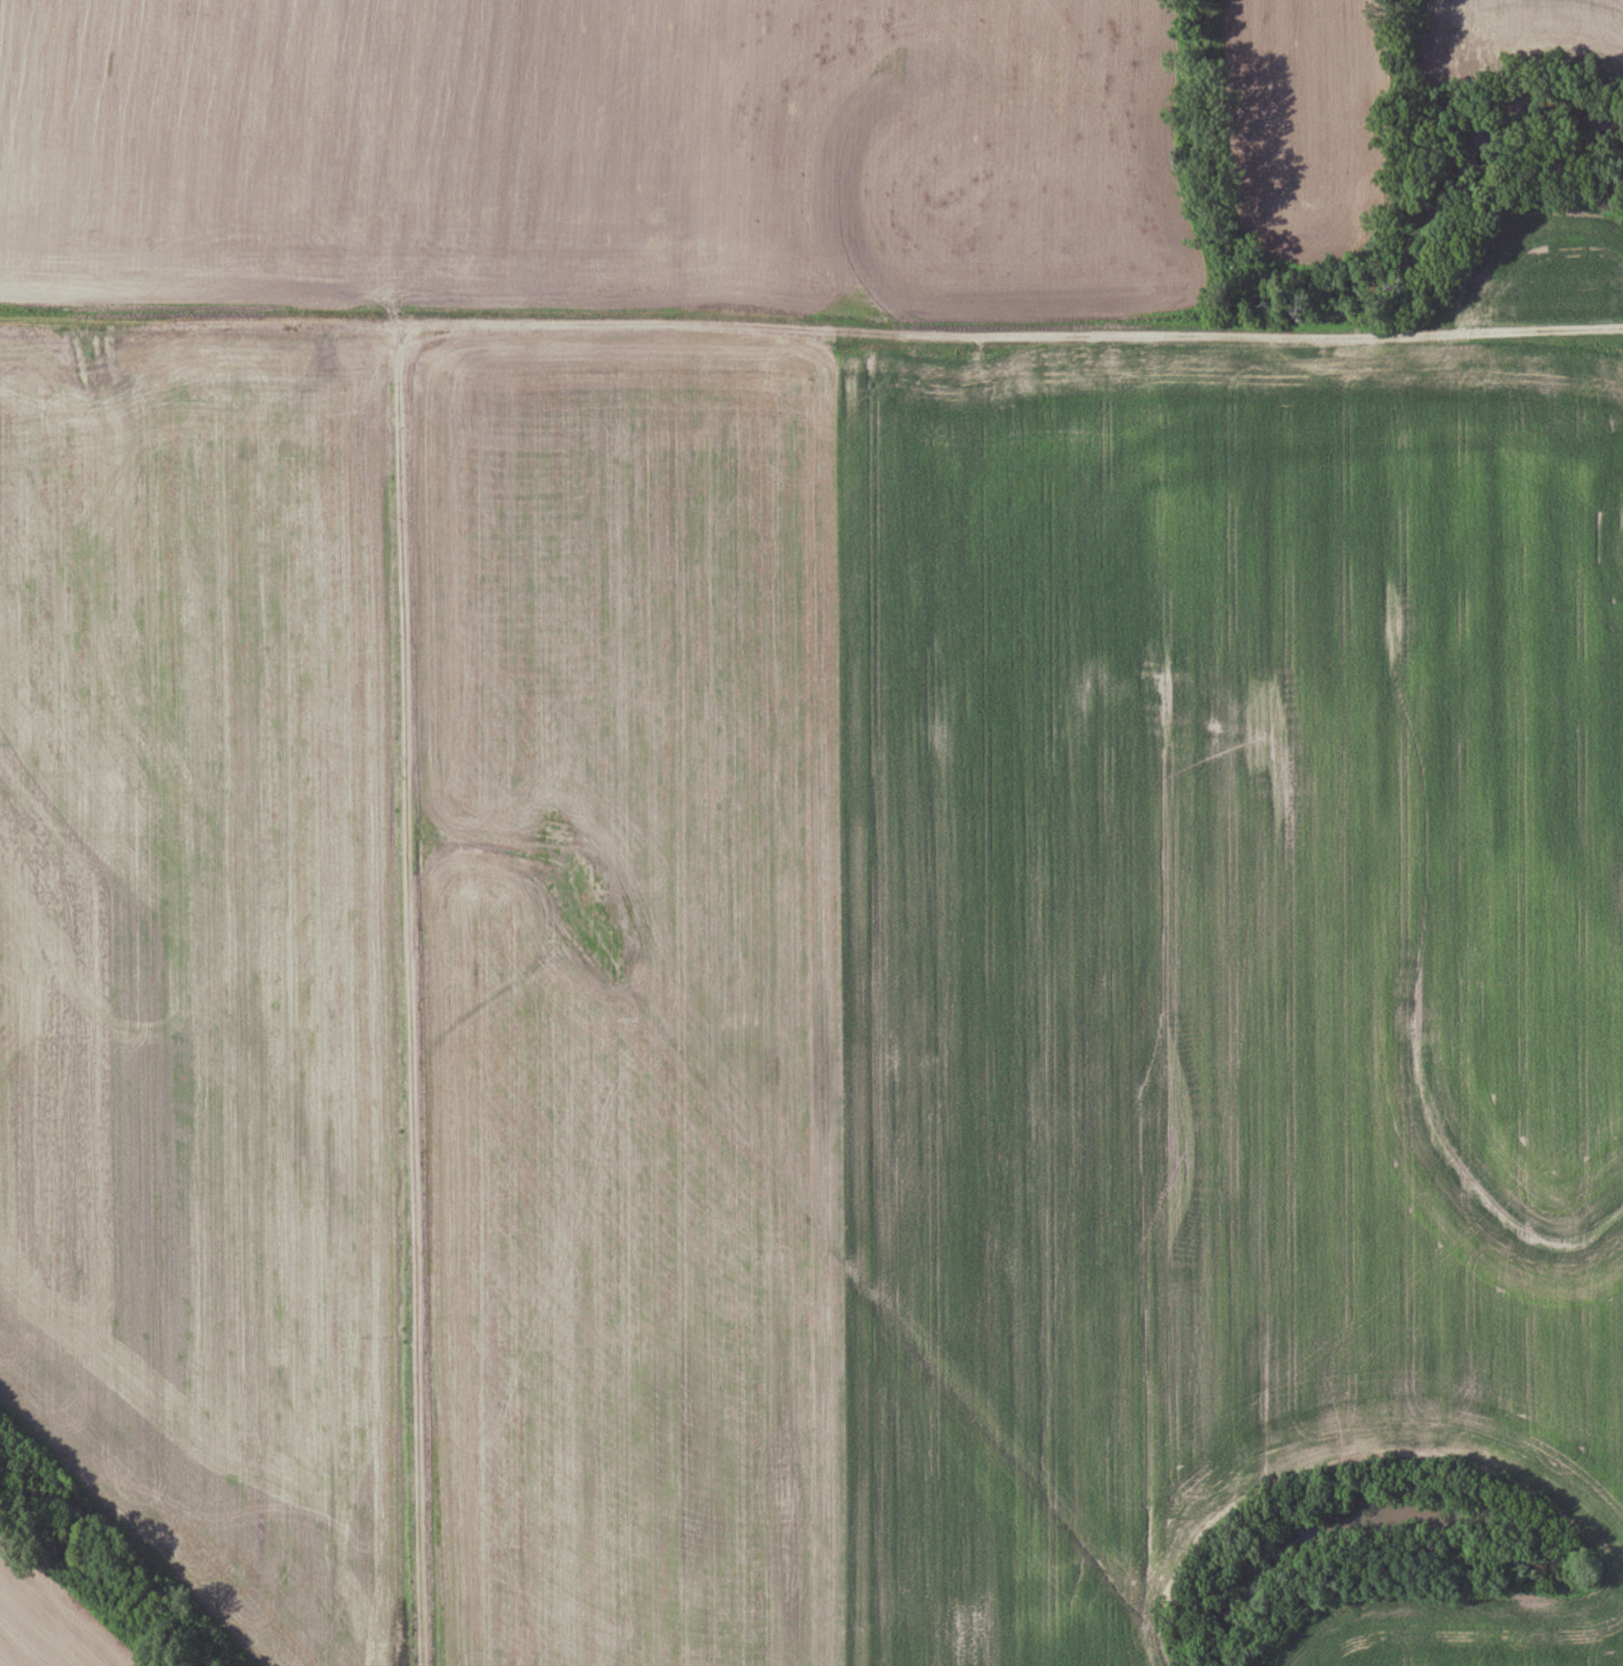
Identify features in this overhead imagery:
road: (810, 328)

